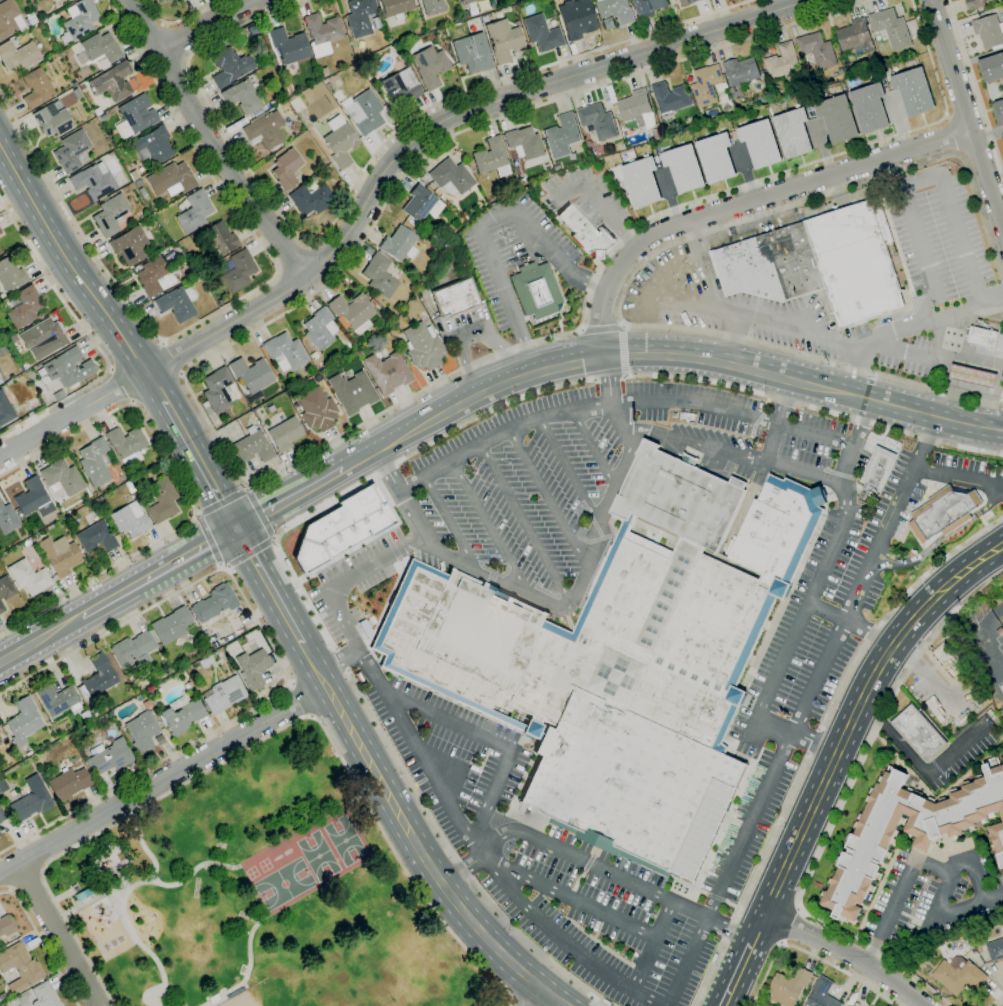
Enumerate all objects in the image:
building: (68, 0)
building: (160, 0)
building: (179, 0)
building: (180, 0)
building: (468, 1)
building: (686, 2)
building: (975, 4)
building: (433, 6)
building: (648, 7)
building: (396, 8)
building: (613, 13)
building: (360, 16)
building: (1001, 16)
building: (31, 18)
road: (178, 18)
building: (9, 19)
building: (79, 20)
building: (576, 22)
road: (205, 24)
building: (891, 28)
building: (252, 30)
building: (989, 32)
building: (322, 33)
building: (541, 33)
building: (854, 39)
building: (503, 40)
road: (176, 42)
building: (289, 45)
building: (98, 49)
building: (816, 50)
building: (472, 52)
building: (18, 56)
building: (782, 61)
building: (229, 66)
building: (430, 66)
building: (991, 68)
building: (323, 72)
building: (739, 75)
building: (112, 82)
building: (705, 85)
road: (975, 86)
building: (401, 87)
building: (36, 88)
building: (288, 88)
building: (913, 92)
building: (77, 93)
building: (242, 97)
building: (669, 98)
building: (636, 108)
building: (870, 109)
building: (96, 111)
building: (363, 112)
building: (998, 112)
building: (138, 114)
road: (966, 114)
building: (102, 118)
building: (837, 119)
building: (52, 120)
building: (597, 121)
building: (265, 130)
building: (656, 134)
building: (793, 134)
building: (664, 135)
building: (562, 136)
road: (953, 136)
building: (1002, 136)
building: (340, 141)
building: (524, 142)
building: (760, 143)
road: (209, 144)
building: (153, 145)
building: (71, 151)
building: (596, 151)
road: (822, 151)
building: (492, 157)
building: (716, 158)
building: (286, 168)
building: (684, 169)
building: (133, 175)
building: (451, 176)
road: (360, 177)
building: (171, 179)
road: (377, 180)
building: (93, 181)
building: (137, 182)
building: (641, 182)
building: (338, 185)
road: (914, 186)
building: (143, 194)
building: (311, 199)
road: (600, 201)
road: (746, 202)
building: (421, 204)
building: (194, 212)
building: (110, 215)
building: (141, 216)
road: (485, 226)
building: (0, 231)
building: (0, 232)
building: (586, 233)
building: (219, 239)
parking lot: (938, 239)
building: (399, 244)
building: (130, 246)
parking lot: (513, 251)
building: (0, 252)
building: (170, 257)
road: (646, 259)
road: (67, 262)
building: (819, 263)
building: (237, 271)
building: (422, 273)
building: (10, 275)
building: (154, 276)
building: (379, 276)
building: (196, 278)
building: (535, 290)
building: (455, 298)
building: (218, 300)
building: (176, 303)
road: (231, 303)
building: (374, 303)
building: (23, 307)
building: (352, 314)
parking lot: (471, 323)
building: (319, 329)
road: (472, 331)
road: (90, 336)
building: (981, 336)
building: (42, 338)
road: (738, 338)
building: (376, 341)
road: (843, 342)
building: (422, 347)
road: (622, 351)
building: (285, 352)
building: (357, 354)
building: (314, 355)
road: (173, 357)
road: (584, 358)
road: (917, 358)
building: (68, 368)
road: (854, 370)
building: (386, 372)
building: (972, 376)
gas station: (972, 376)
building: (252, 377)
road: (120, 386)
road: (154, 387)
road: (560, 387)
building: (217, 389)
building: (352, 392)
building: (58, 395)
road: (609, 401)
road: (619, 403)
building: (5, 410)
building: (316, 410)
road: (924, 413)
road: (774, 419)
road: (994, 425)
building: (284, 434)
building: (126, 442)
building: (252, 446)
road: (591, 449)
road: (920, 456)
building: (94, 462)
road: (200, 464)
building: (878, 466)
parking lot: (588, 468)
road: (566, 472)
building: (61, 478)
road: (960, 479)
road: (250, 485)
road: (399, 492)
road: (185, 493)
road: (545, 494)
road: (289, 496)
building: (33, 498)
road: (608, 499)
building: (162, 500)
road: (224, 502)
building: (943, 512)
road: (260, 513)
building: (130, 516)
building: (7, 519)
road: (449, 524)
road: (887, 524)
road: (488, 526)
road: (524, 526)
traffic signals: (238, 527)
building: (342, 527)
building: (96, 537)
road: (940, 539)
road: (209, 541)
road: (250, 553)
building: (60, 555)
road: (186, 555)
building: (28, 577)
road: (270, 586)
building: (6, 587)
road: (808, 601)
building: (214, 603)
building: (1, 608)
road: (851, 622)
road: (67, 624)
building: (171, 625)
road: (985, 637)
building: (133, 650)
road: (281, 657)
road: (341, 659)
building: (621, 659)
road: (338, 660)
building: (949, 661)
road: (315, 666)
building: (253, 668)
road: (925, 672)
road: (372, 674)
building: (97, 677)
building: (224, 694)
building: (57, 699)
road: (301, 700)
parking lot: (951, 703)
road: (858, 709)
building: (94, 713)
building: (182, 716)
building: (23, 721)
building: (141, 732)
building: (918, 733)
road: (818, 738)
road: (262, 739)
road: (492, 740)
road: (225, 746)
parking lot: (454, 756)
parking lot: (961, 756)
building: (110, 757)
road: (919, 768)
road: (770, 780)
building: (69, 783)
building: (31, 799)
road: (839, 807)
building: (2, 816)
building: (0, 822)
building: (905, 831)
road: (61, 839)
park: (345, 840)
building: (997, 841)
park: (319, 855)
road: (456, 857)
road: (913, 862)
road: (426, 863)
road: (591, 865)
road: (196, 871)
road: (27, 883)
park: (285, 884)
park: (271, 895)
road: (568, 895)
parking lot: (935, 895)
building: (84, 896)
road: (123, 903)
road: (943, 914)
road: (789, 923)
building: (7, 925)
road: (58, 935)
road: (561, 940)
road: (44, 943)
road: (653, 947)
building: (995, 949)
road: (846, 952)
road: (807, 955)
road: (743, 959)
building: (20, 967)
road: (247, 968)
building: (958, 975)
building: (788, 987)
building: (821, 994)
building: (44, 995)
road: (532, 997)
park: (242, 999)
road: (996, 1001)
building: (12, 1002)
road: (513, 1005)
building: (847, 1005)

